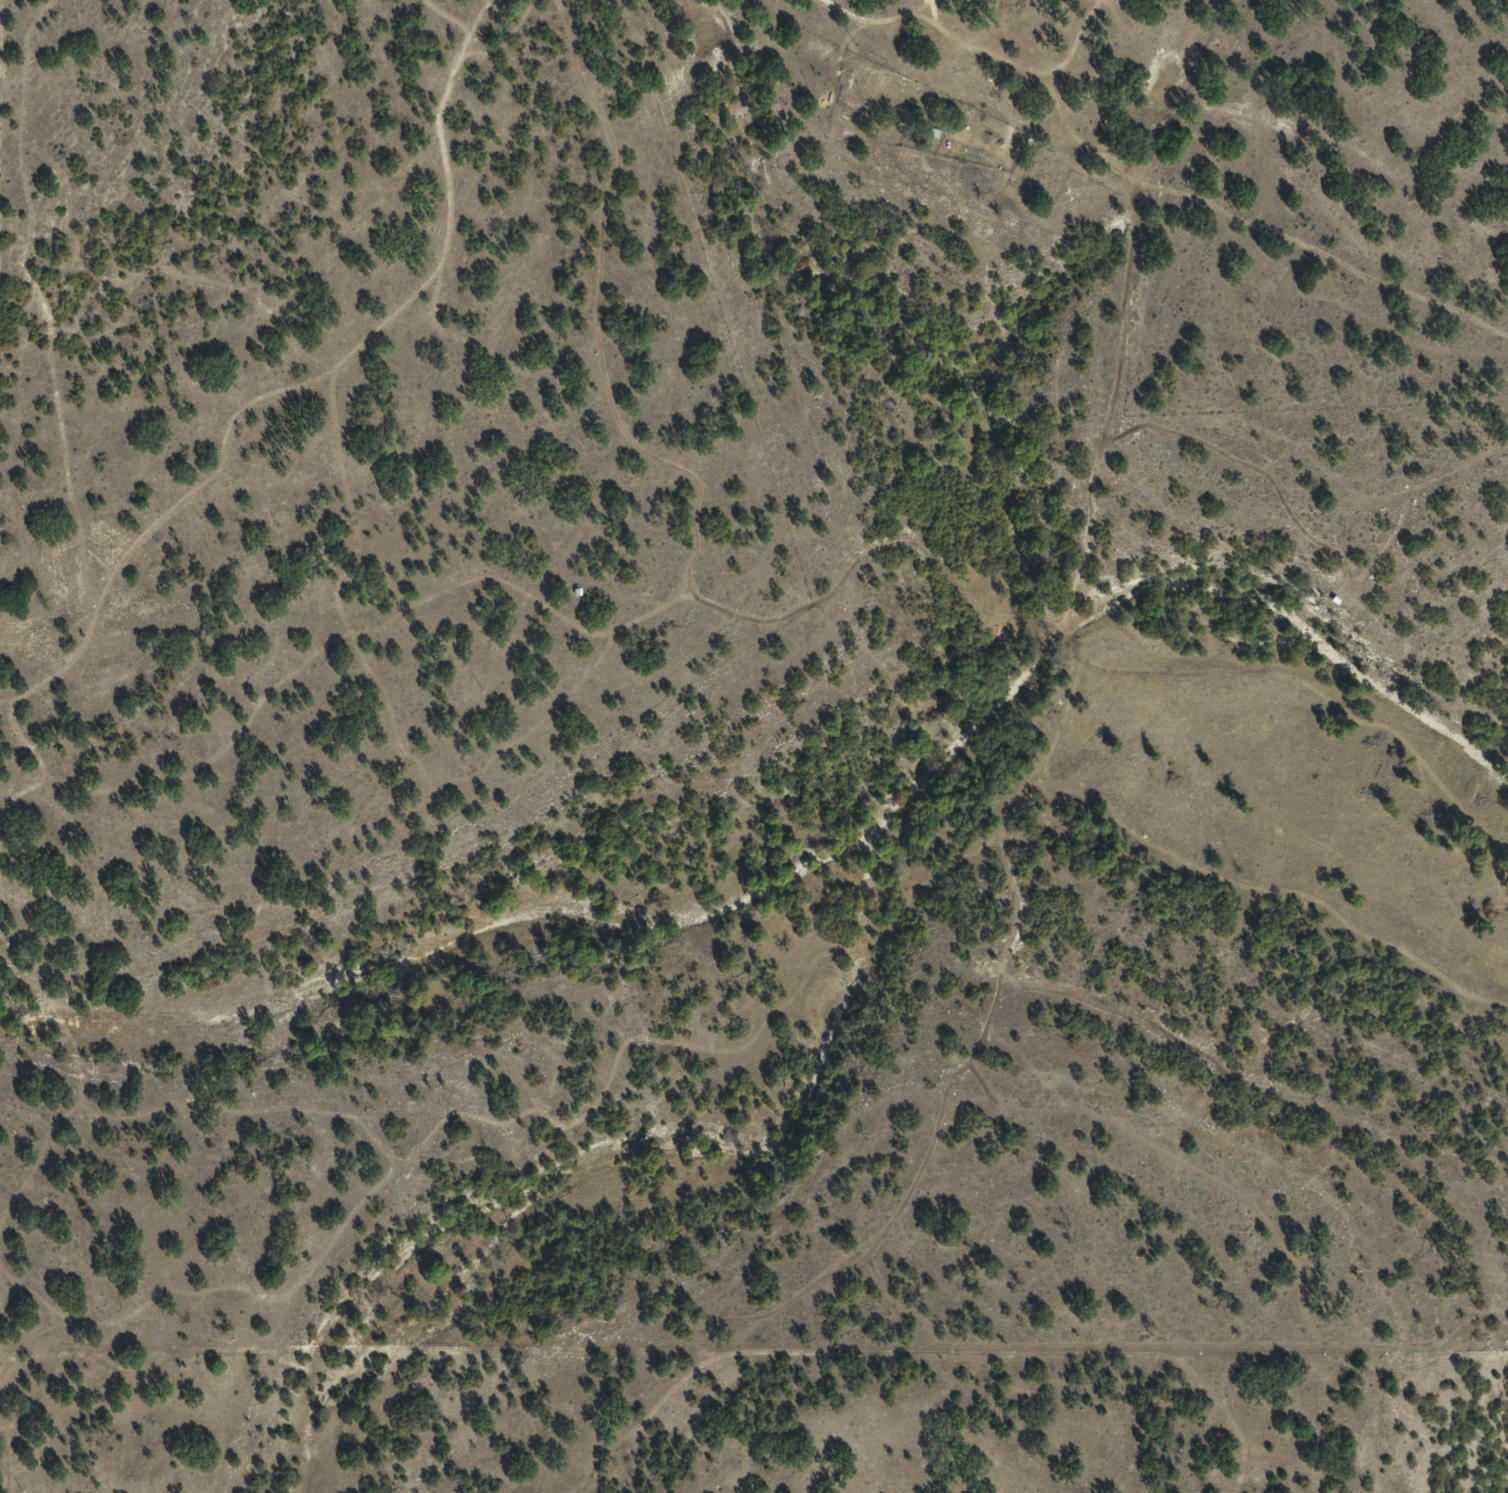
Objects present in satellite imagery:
road: (1198, 134)
road: (292, 388)

